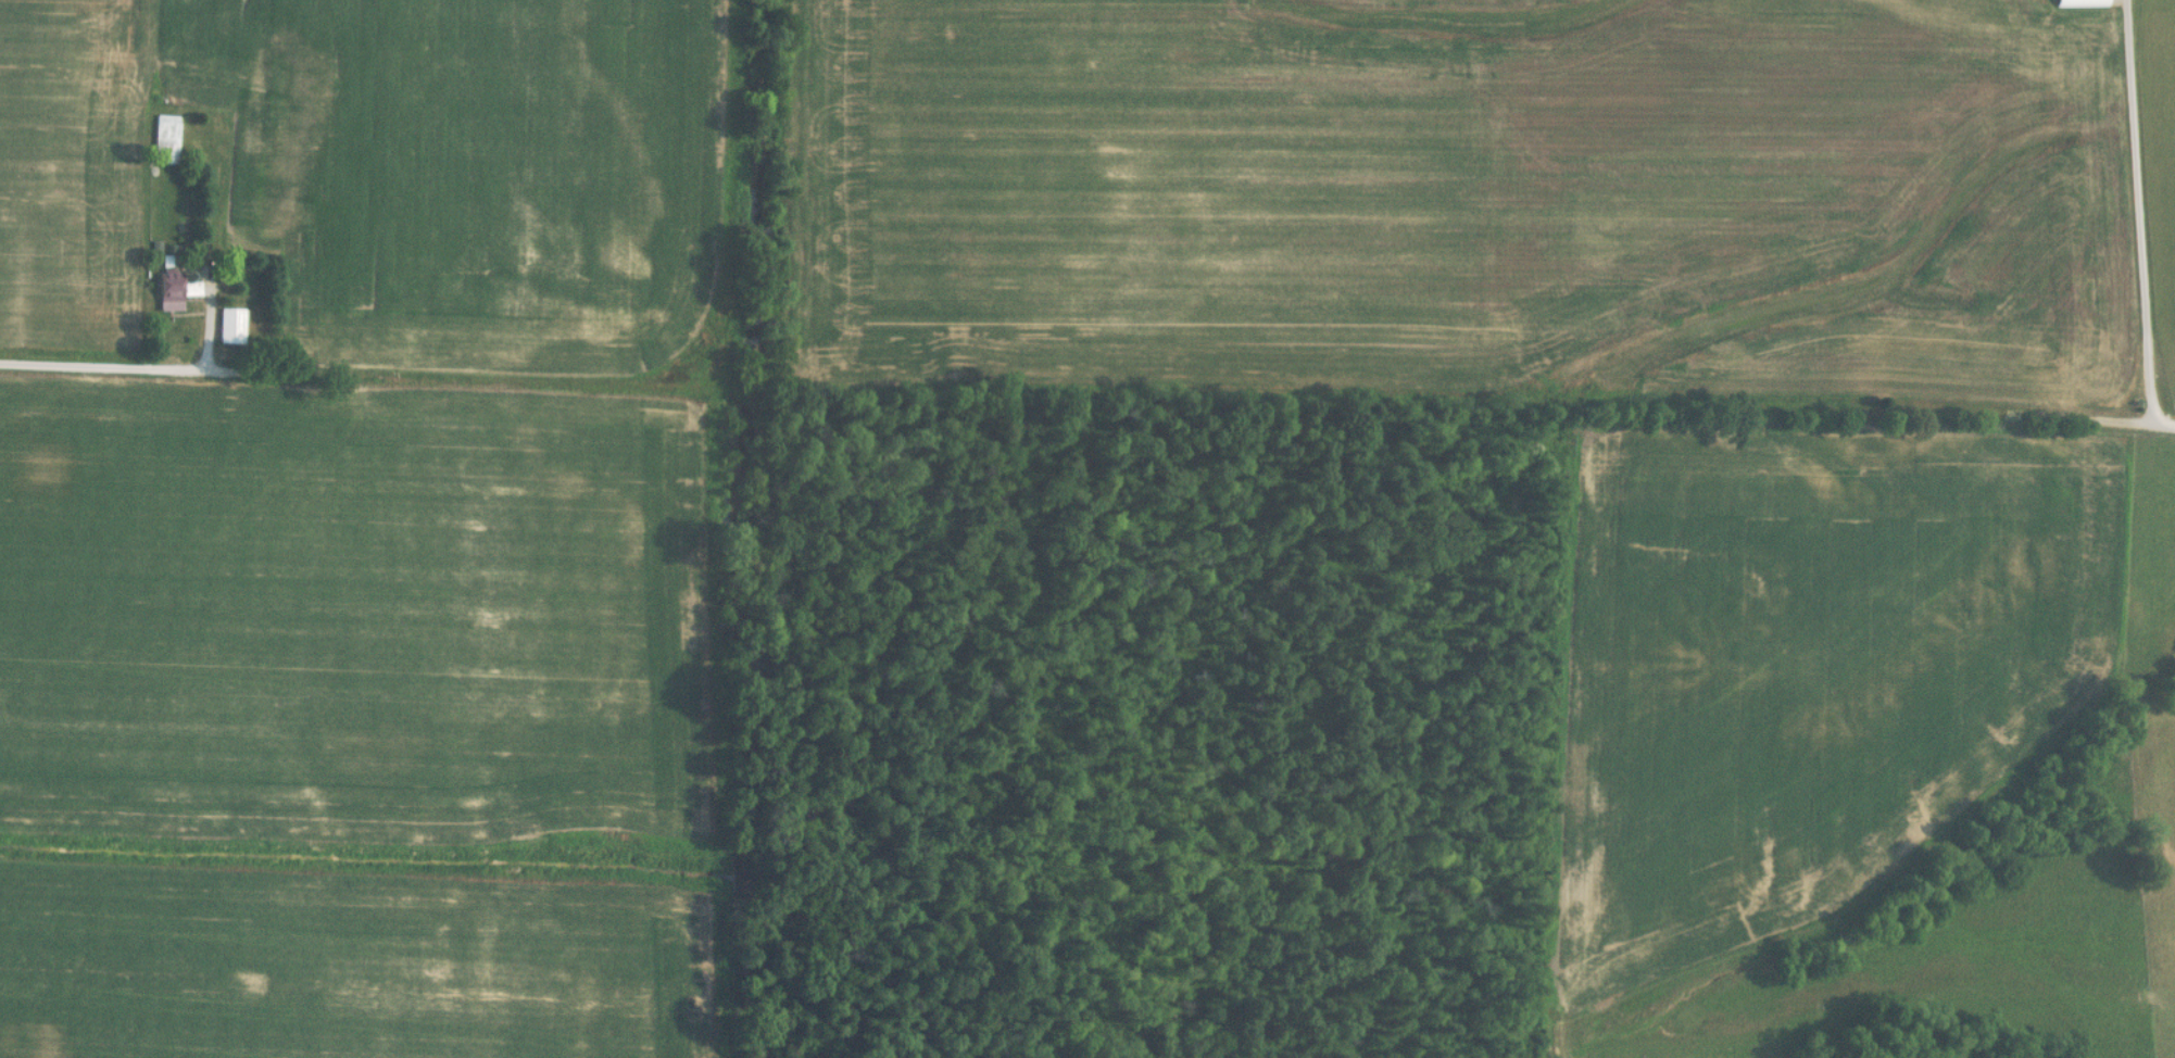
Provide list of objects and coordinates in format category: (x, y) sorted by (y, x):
building: (163, 142)
road: (2137, 210)
building: (173, 291)
building: (227, 330)
road: (106, 364)
road: (2041, 426)

